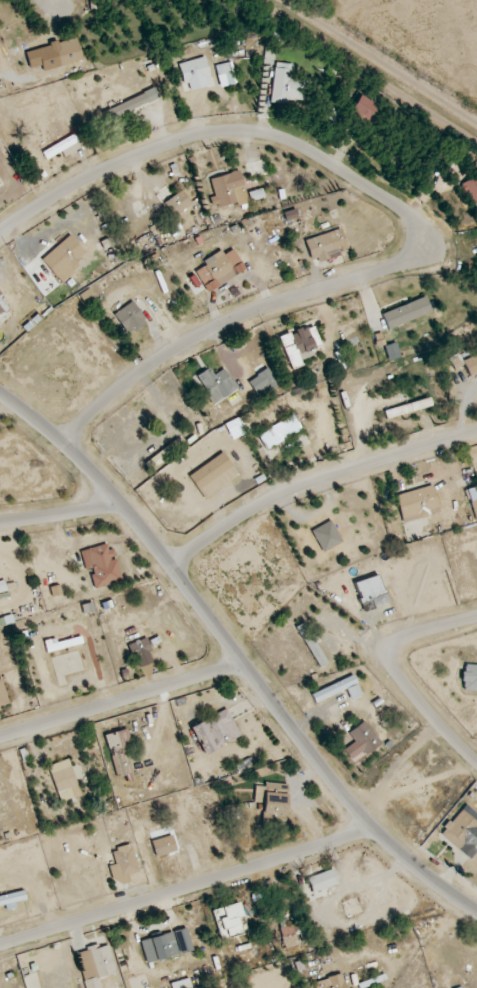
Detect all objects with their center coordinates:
road: (56, 1)
building: (67, 52)
building: (194, 73)
building: (224, 74)
building: (285, 85)
building: (129, 105)
building: (363, 112)
road: (223, 129)
building: (0, 180)
building: (470, 189)
building: (228, 190)
building: (178, 203)
building: (325, 245)
building: (64, 258)
building: (219, 269)
building: (3, 306)
building: (406, 312)
building: (129, 318)
road: (228, 320)
building: (298, 345)
building: (392, 351)
building: (456, 361)
building: (471, 365)
building: (262, 382)
building: (216, 384)
building: (413, 406)
building: (279, 431)
building: (213, 475)
road: (316, 481)
building: (417, 504)
building: (474, 504)
road: (60, 515)
building: (326, 536)
building: (101, 565)
building: (54, 590)
building: (370, 592)
building: (62, 643)
building: (312, 645)
building: (139, 648)
road: (236, 652)
road: (396, 672)
building: (469, 678)
building: (334, 688)
building: (2, 696)
road: (121, 699)
building: (215, 731)
building: (361, 741)
building: (120, 753)
building: (64, 780)
building: (271, 799)
building: (460, 830)
building: (164, 846)
building: (122, 864)
building: (322, 880)
road: (186, 887)
building: (11, 900)
building: (289, 934)
building: (159, 947)
building: (95, 965)
building: (330, 982)
building: (181, 984)

